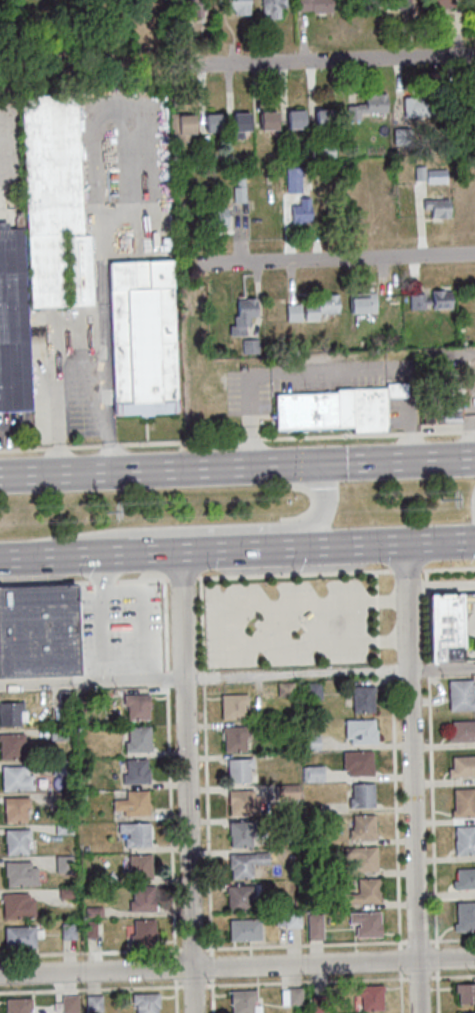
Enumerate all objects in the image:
building: (471, 2)
building: (440, 4)
building: (318, 6)
building: (189, 7)
building: (238, 7)
building: (273, 8)
road: (325, 61)
building: (421, 107)
building: (370, 109)
building: (320, 117)
building: (293, 118)
building: (265, 119)
building: (211, 121)
building: (238, 121)
building: (179, 125)
building: (241, 189)
building: (53, 204)
building: (300, 206)
building: (437, 208)
building: (219, 216)
road: (332, 258)
building: (474, 294)
building: (432, 299)
building: (360, 302)
building: (322, 306)
building: (294, 312)
road: (84, 314)
building: (243, 316)
building: (11, 324)
building: (140, 337)
building: (443, 408)
building: (332, 409)
road: (468, 433)
road: (440, 434)
road: (408, 435)
road: (329, 438)
road: (249, 440)
road: (180, 443)
road: (111, 446)
road: (84, 448)
road: (57, 449)
road: (24, 451)
traffic signals: (320, 462)
road: (237, 465)
power tower: (445, 504)
power tower: (108, 516)
road: (198, 529)
road: (392, 543)
road: (228, 549)
road: (74, 555)
road: (448, 566)
road: (405, 567)
road: (278, 576)
road: (82, 580)
road: (427, 616)
road: (376, 618)
parking lot: (285, 621)
road: (229, 624)
building: (447, 624)
road: (165, 625)
road: (201, 626)
parking lot: (119, 629)
building: (37, 631)
road: (120, 657)
road: (429, 671)
road: (384, 672)
road: (237, 675)
road: (203, 679)
road: (166, 680)
building: (286, 689)
building: (314, 690)
building: (460, 693)
building: (363, 698)
building: (62, 703)
building: (234, 705)
building: (135, 706)
building: (10, 713)
building: (361, 730)
building: (462, 730)
building: (56, 733)
building: (235, 737)
building: (136, 739)
building: (309, 741)
building: (9, 745)
building: (358, 762)
building: (462, 764)
building: (58, 767)
building: (239, 768)
building: (134, 772)
building: (313, 773)
road: (412, 777)
building: (14, 778)
road: (187, 781)
building: (286, 790)
building: (361, 794)
building: (81, 795)
building: (59, 799)
building: (464, 801)
building: (244, 802)
building: (131, 804)
building: (14, 809)
road: (207, 819)
road: (171, 820)
road: (395, 825)
building: (362, 826)
building: (61, 828)
building: (133, 834)
building: (241, 834)
building: (310, 839)
building: (464, 839)
building: (14, 840)
road: (434, 845)
building: (84, 848)
building: (363, 856)
building: (62, 863)
building: (245, 863)
building: (137, 867)
building: (294, 870)
building: (18, 873)
building: (465, 877)
building: (365, 891)
building: (64, 892)
building: (241, 897)
building: (140, 898)
building: (16, 905)
building: (92, 911)
building: (465, 915)
building: (290, 918)
building: (366, 923)
building: (315, 924)
building: (89, 929)
building: (245, 929)
building: (66, 930)
building: (141, 933)
building: (19, 936)
road: (340, 944)
road: (193, 947)
road: (90, 951)
road: (211, 964)
road: (175, 966)
road: (237, 967)
road: (441, 976)
road: (306, 980)
road: (193, 983)
road: (91, 989)
road: (402, 991)
building: (465, 993)
road: (213, 994)
road: (176, 995)
building: (293, 996)
building: (369, 997)
building: (241, 1001)
building: (144, 1002)
building: (67, 1003)
building: (92, 1004)
building: (318, 1004)
building: (16, 1005)
building: (467, 1012)

